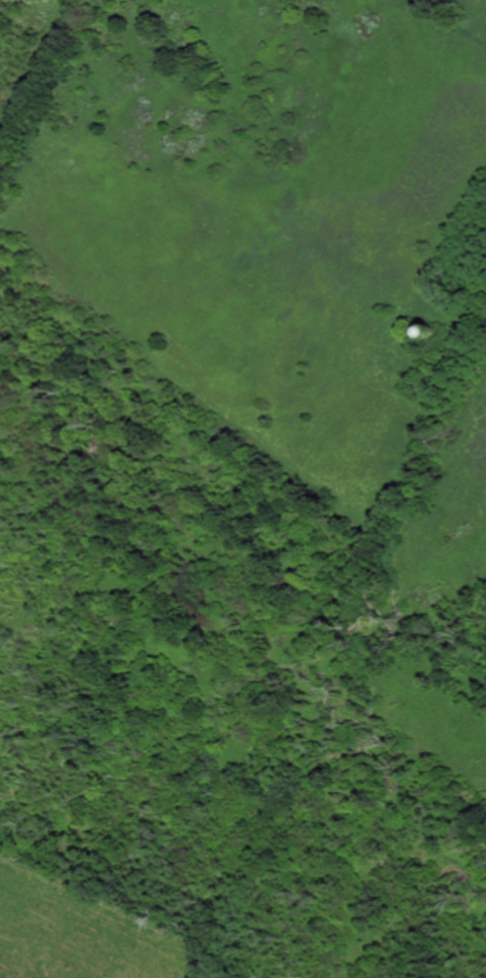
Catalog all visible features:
building: (433, 330)
silo: (433, 330)

